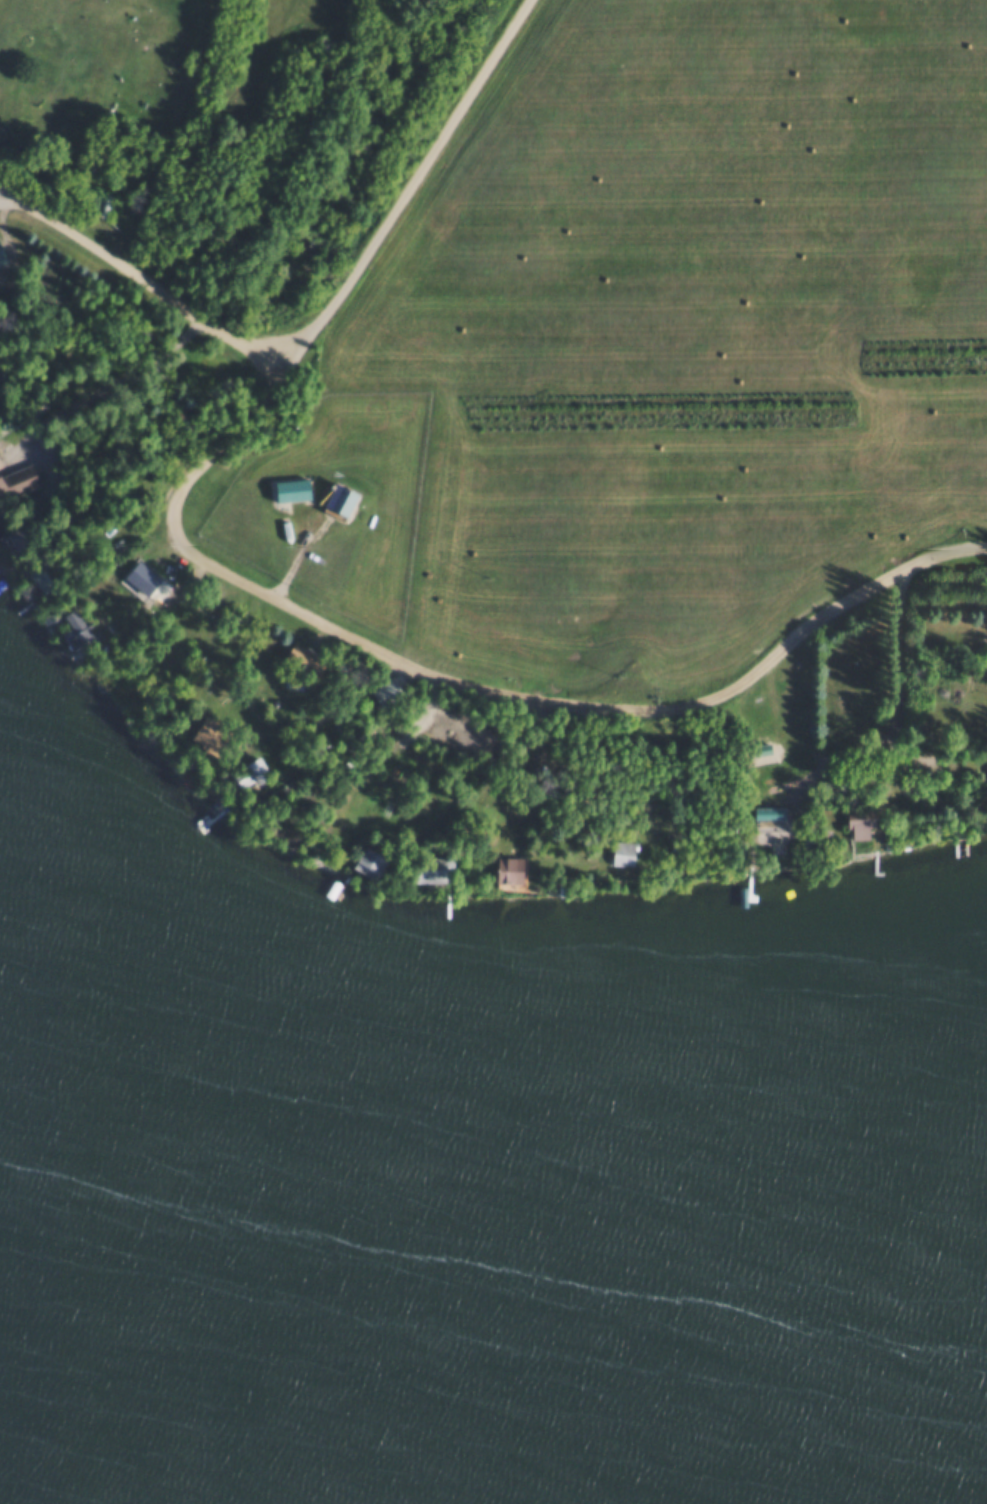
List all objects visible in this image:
road: (413, 186)
road: (6, 202)
building: (104, 203)
building: (109, 209)
road: (141, 281)
road: (23, 295)
road: (108, 380)
building: (21, 475)
building: (1, 480)
building: (289, 487)
building: (337, 496)
building: (23, 536)
building: (44, 574)
building: (79, 625)
building: (298, 658)
road: (898, 675)
building: (288, 681)
road: (478, 690)
building: (380, 691)
building: (223, 751)
building: (981, 764)
road: (481, 768)
building: (764, 817)
building: (855, 820)
building: (621, 850)
building: (366, 861)
building: (429, 867)
building: (505, 867)

